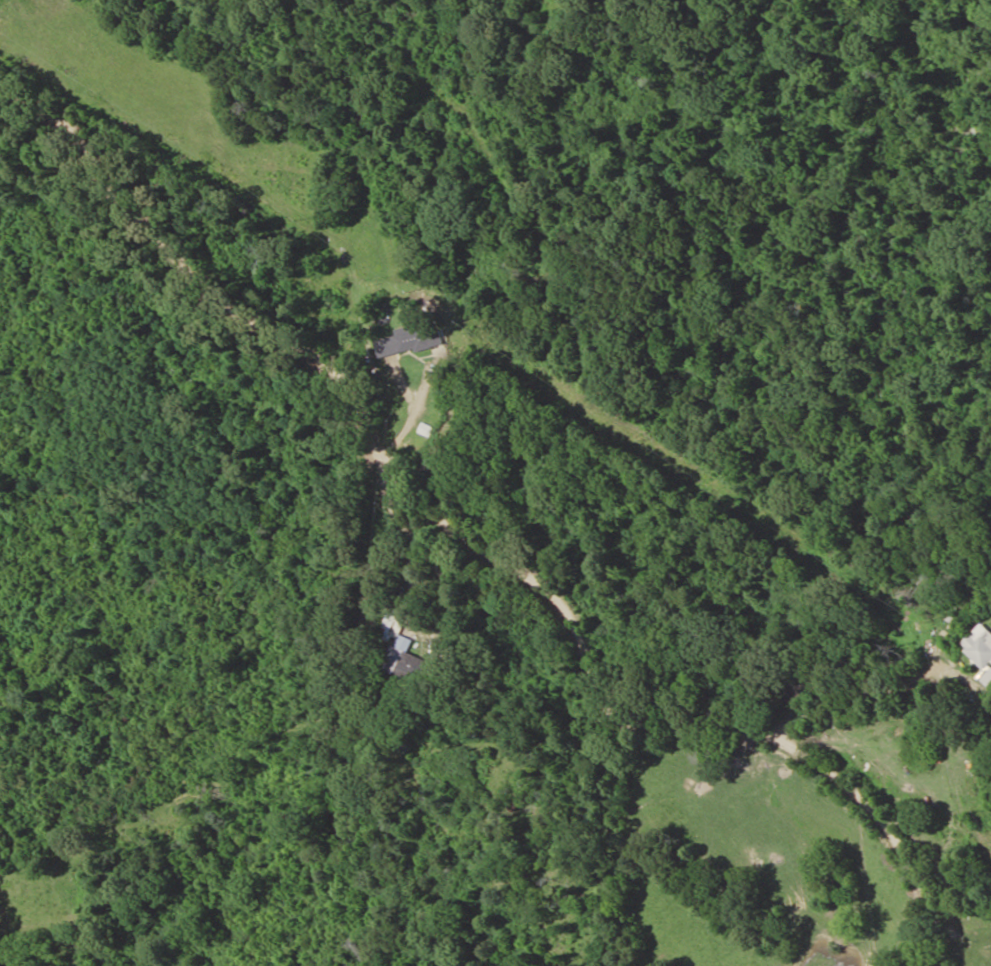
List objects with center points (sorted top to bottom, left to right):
building: (417, 340)
road: (462, 505)
building: (980, 651)
building: (402, 663)
road: (15, 844)

